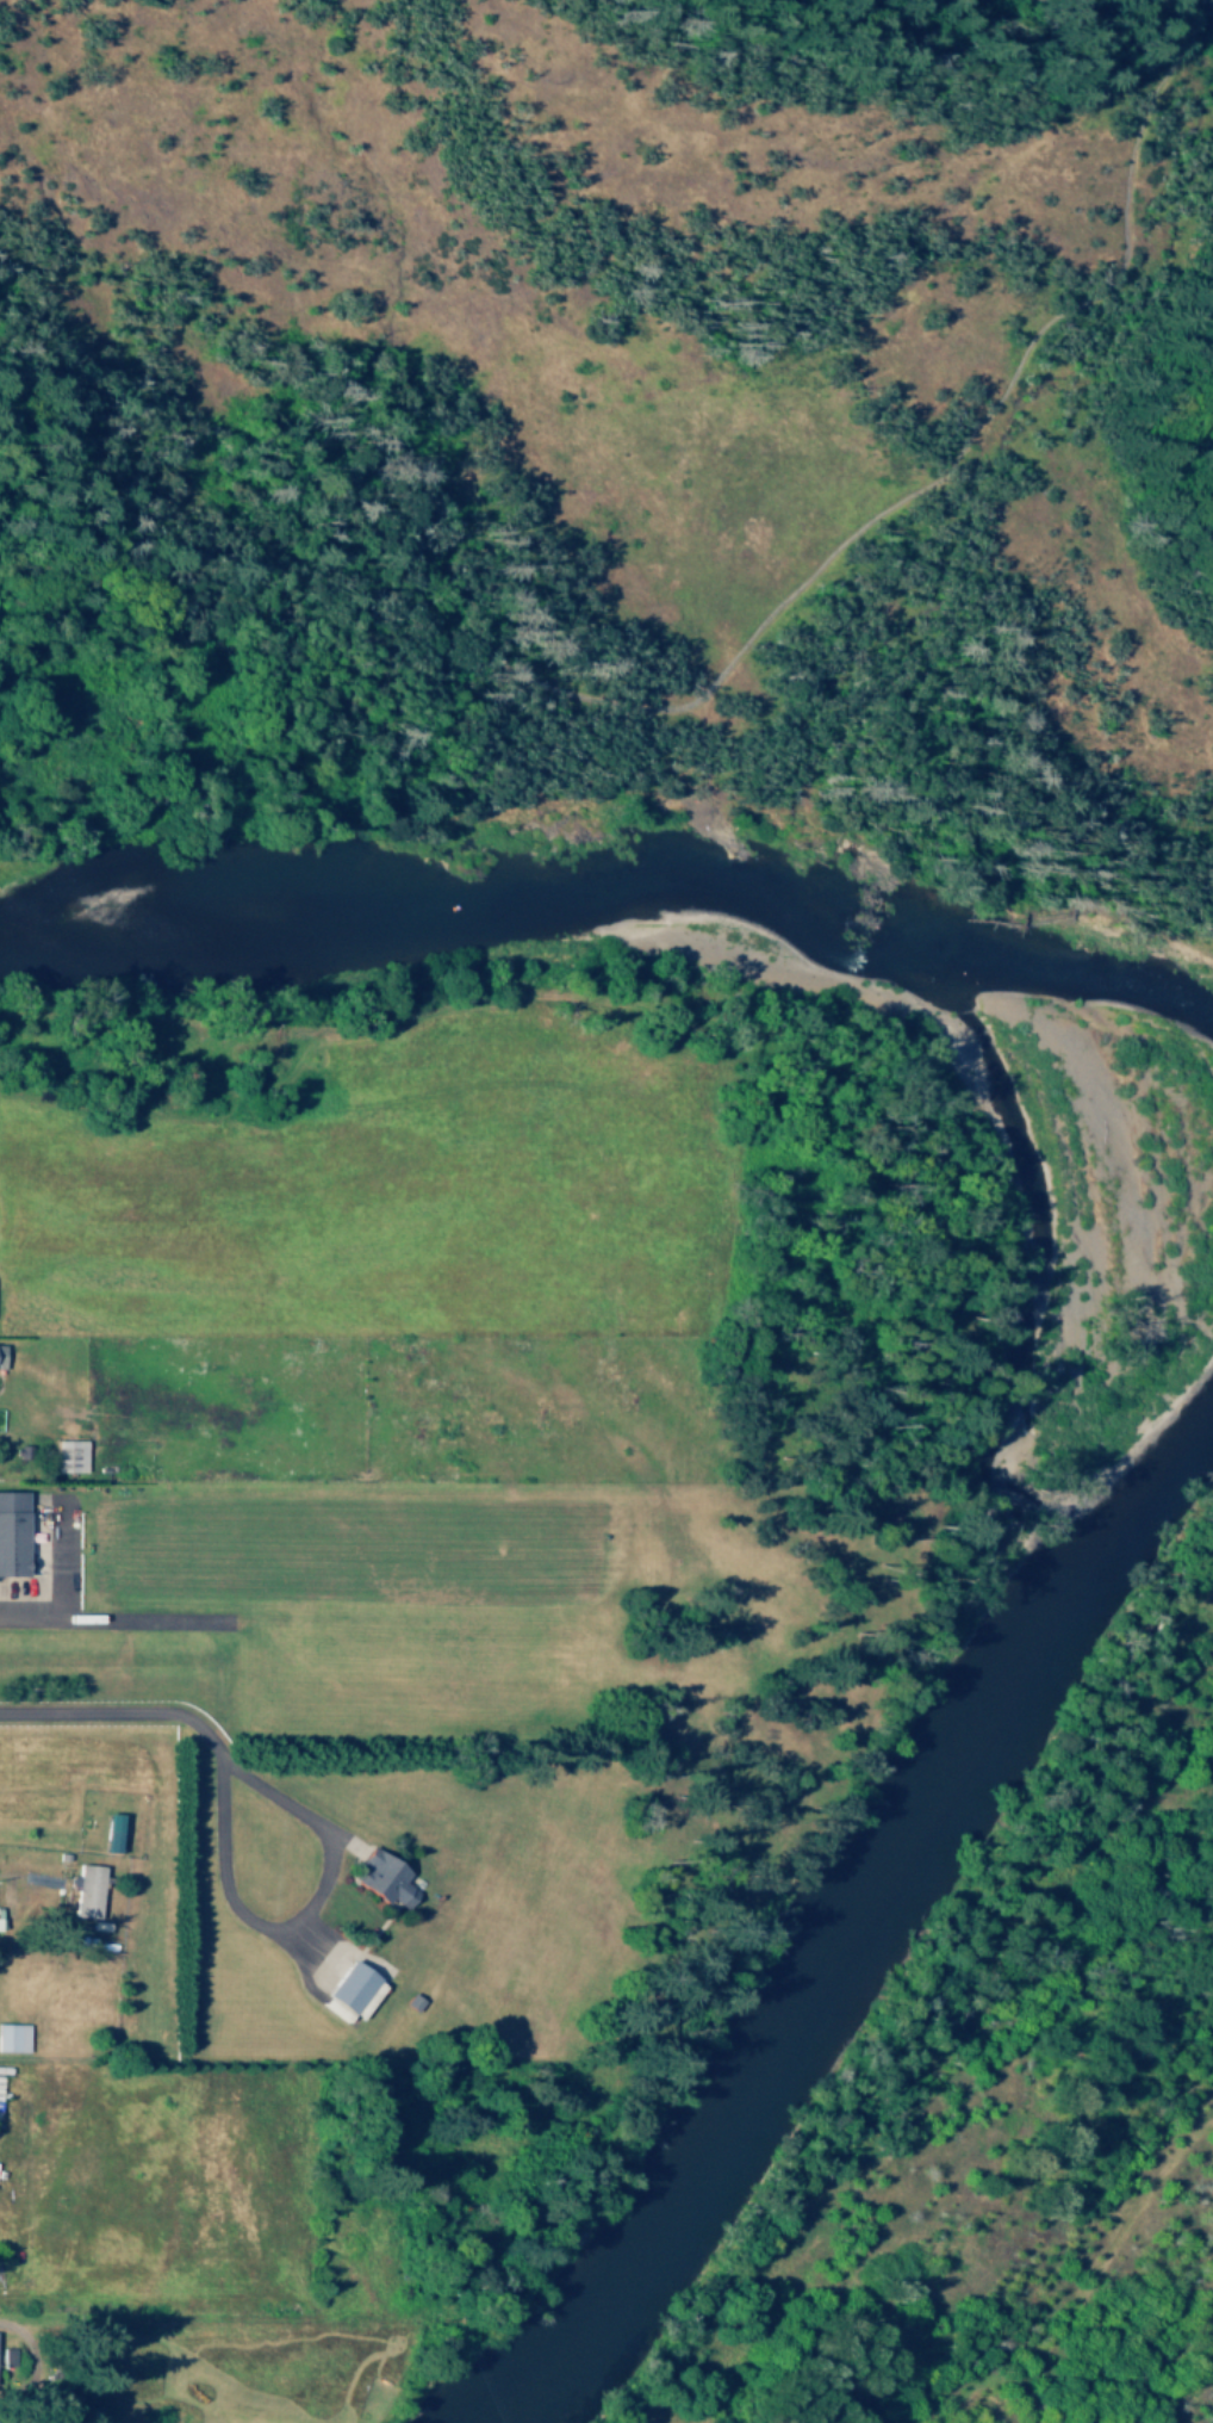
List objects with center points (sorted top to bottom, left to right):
road: (754, 634)
river: (615, 918)
building: (0, 1344)
building: (66, 1455)
building: (10, 1532)
building: (106, 1832)
building: (377, 1879)
building: (83, 1890)
river: (867, 1920)
building: (349, 1989)
building: (12, 2037)
building: (4, 2355)

